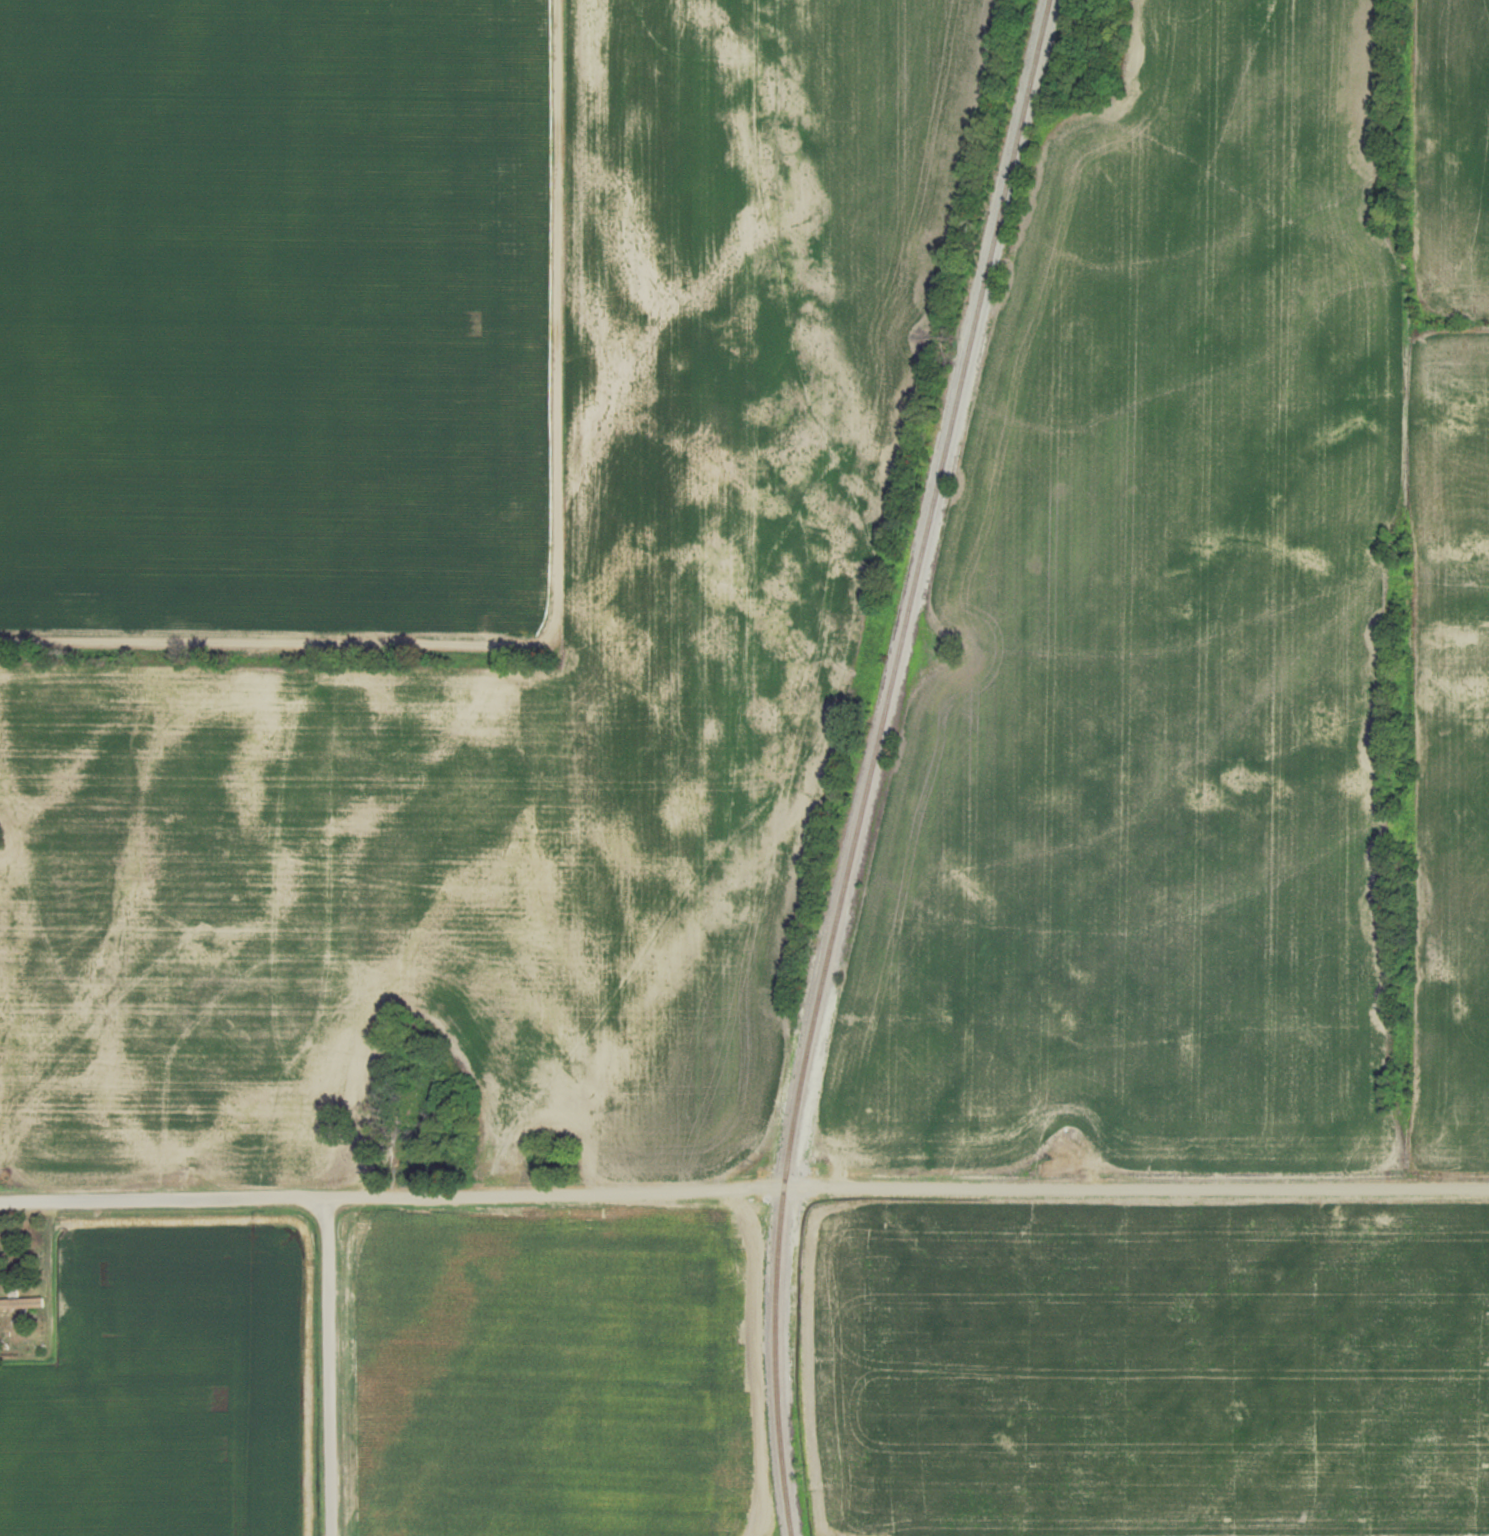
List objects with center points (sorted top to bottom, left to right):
railway: (872, 763)
building: (409, 1113)
road: (744, 1184)
building: (22, 1300)
road: (327, 1365)

